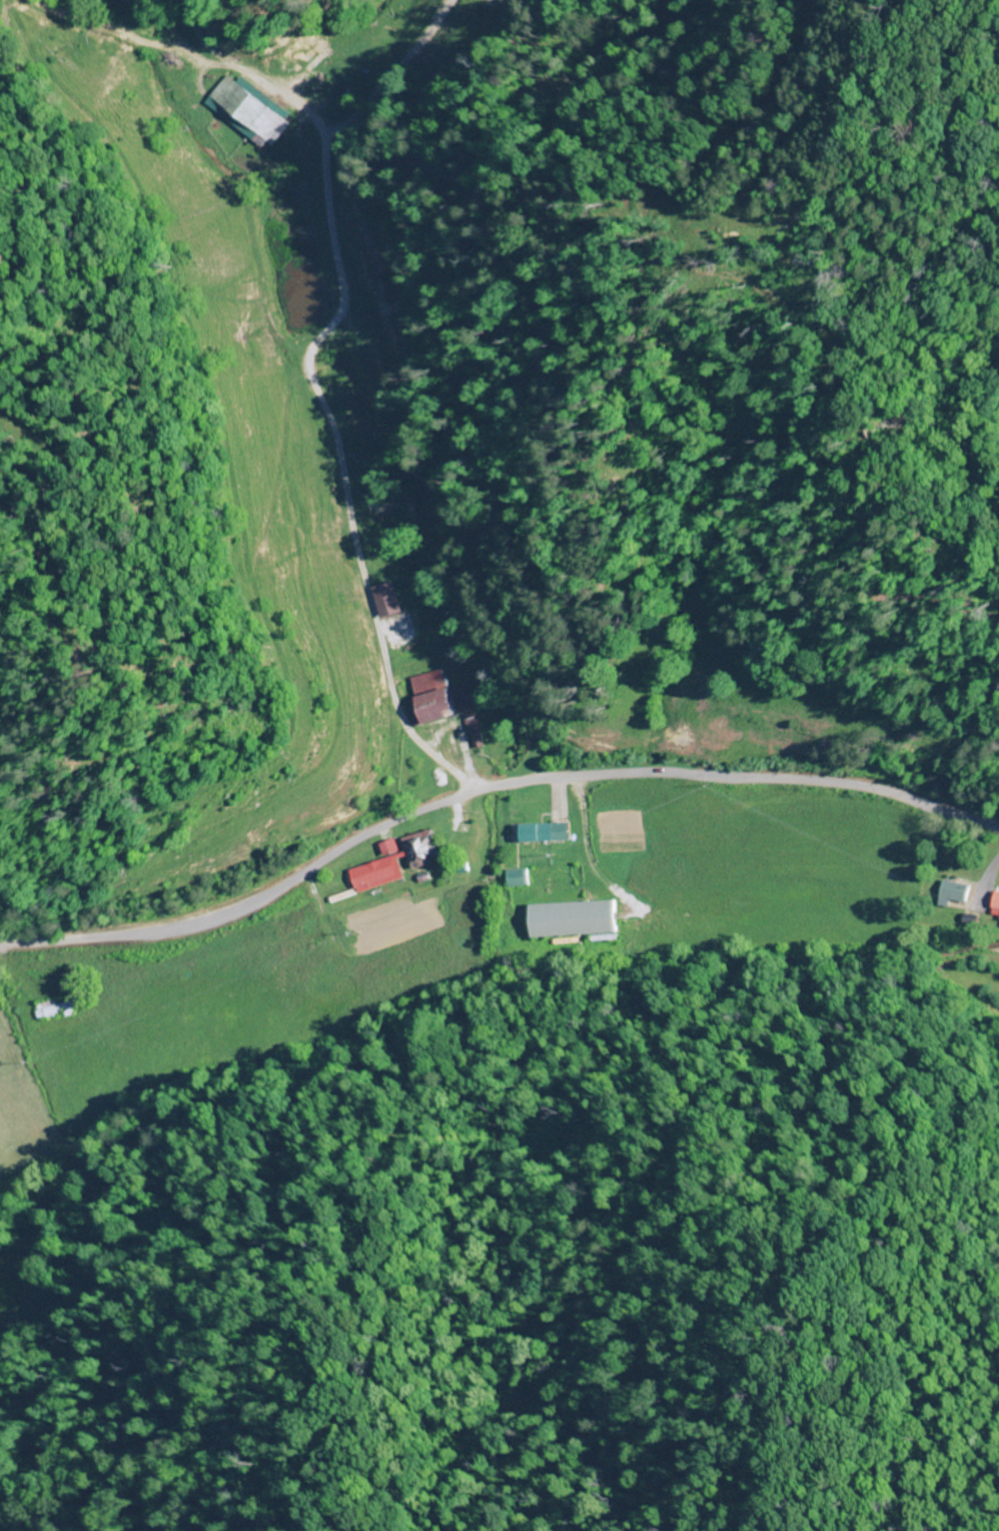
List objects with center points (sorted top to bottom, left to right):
road: (124, 0)
building: (250, 109)
road: (308, 354)
building: (391, 601)
building: (439, 700)
road: (487, 789)
building: (548, 833)
building: (426, 850)
building: (376, 873)
building: (520, 878)
building: (956, 889)
building: (996, 904)
building: (575, 919)
building: (58, 1010)

